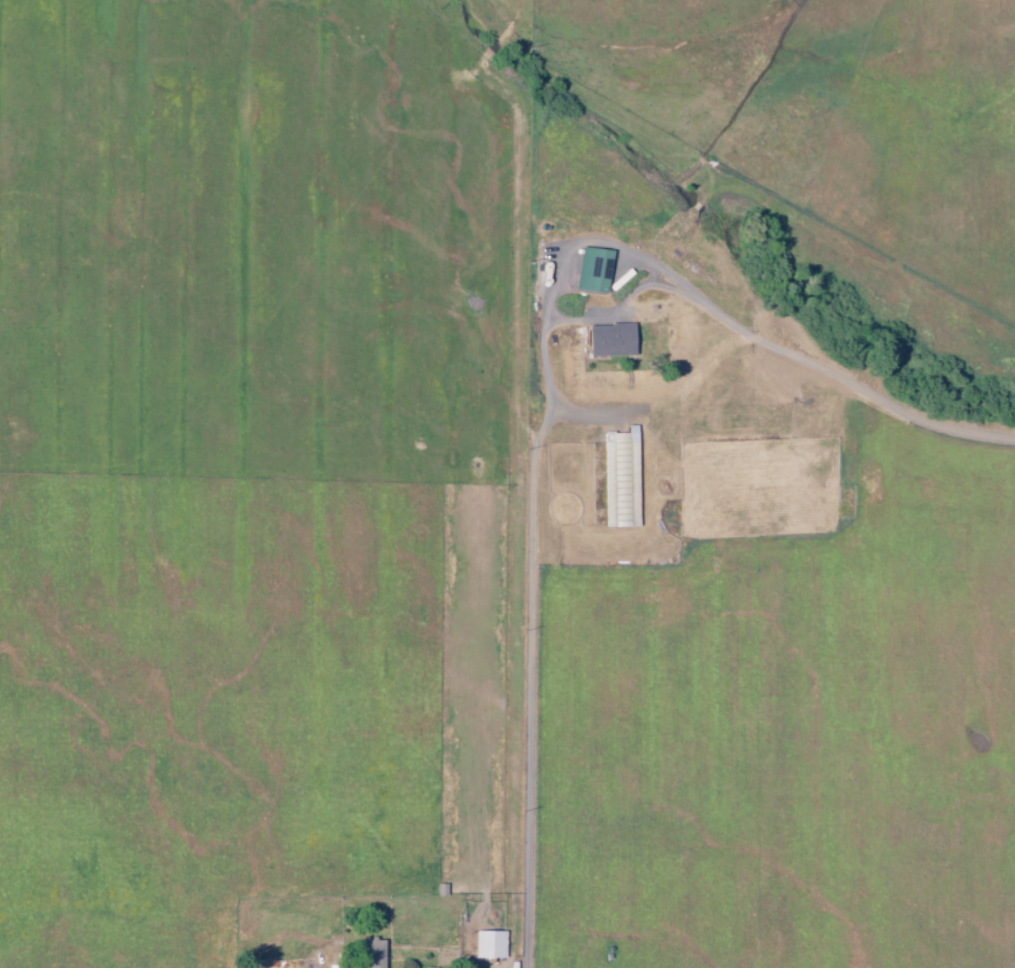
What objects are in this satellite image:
building: (592, 270)
building: (607, 339)
road: (845, 382)
road: (533, 722)
building: (487, 944)
building: (369, 953)

